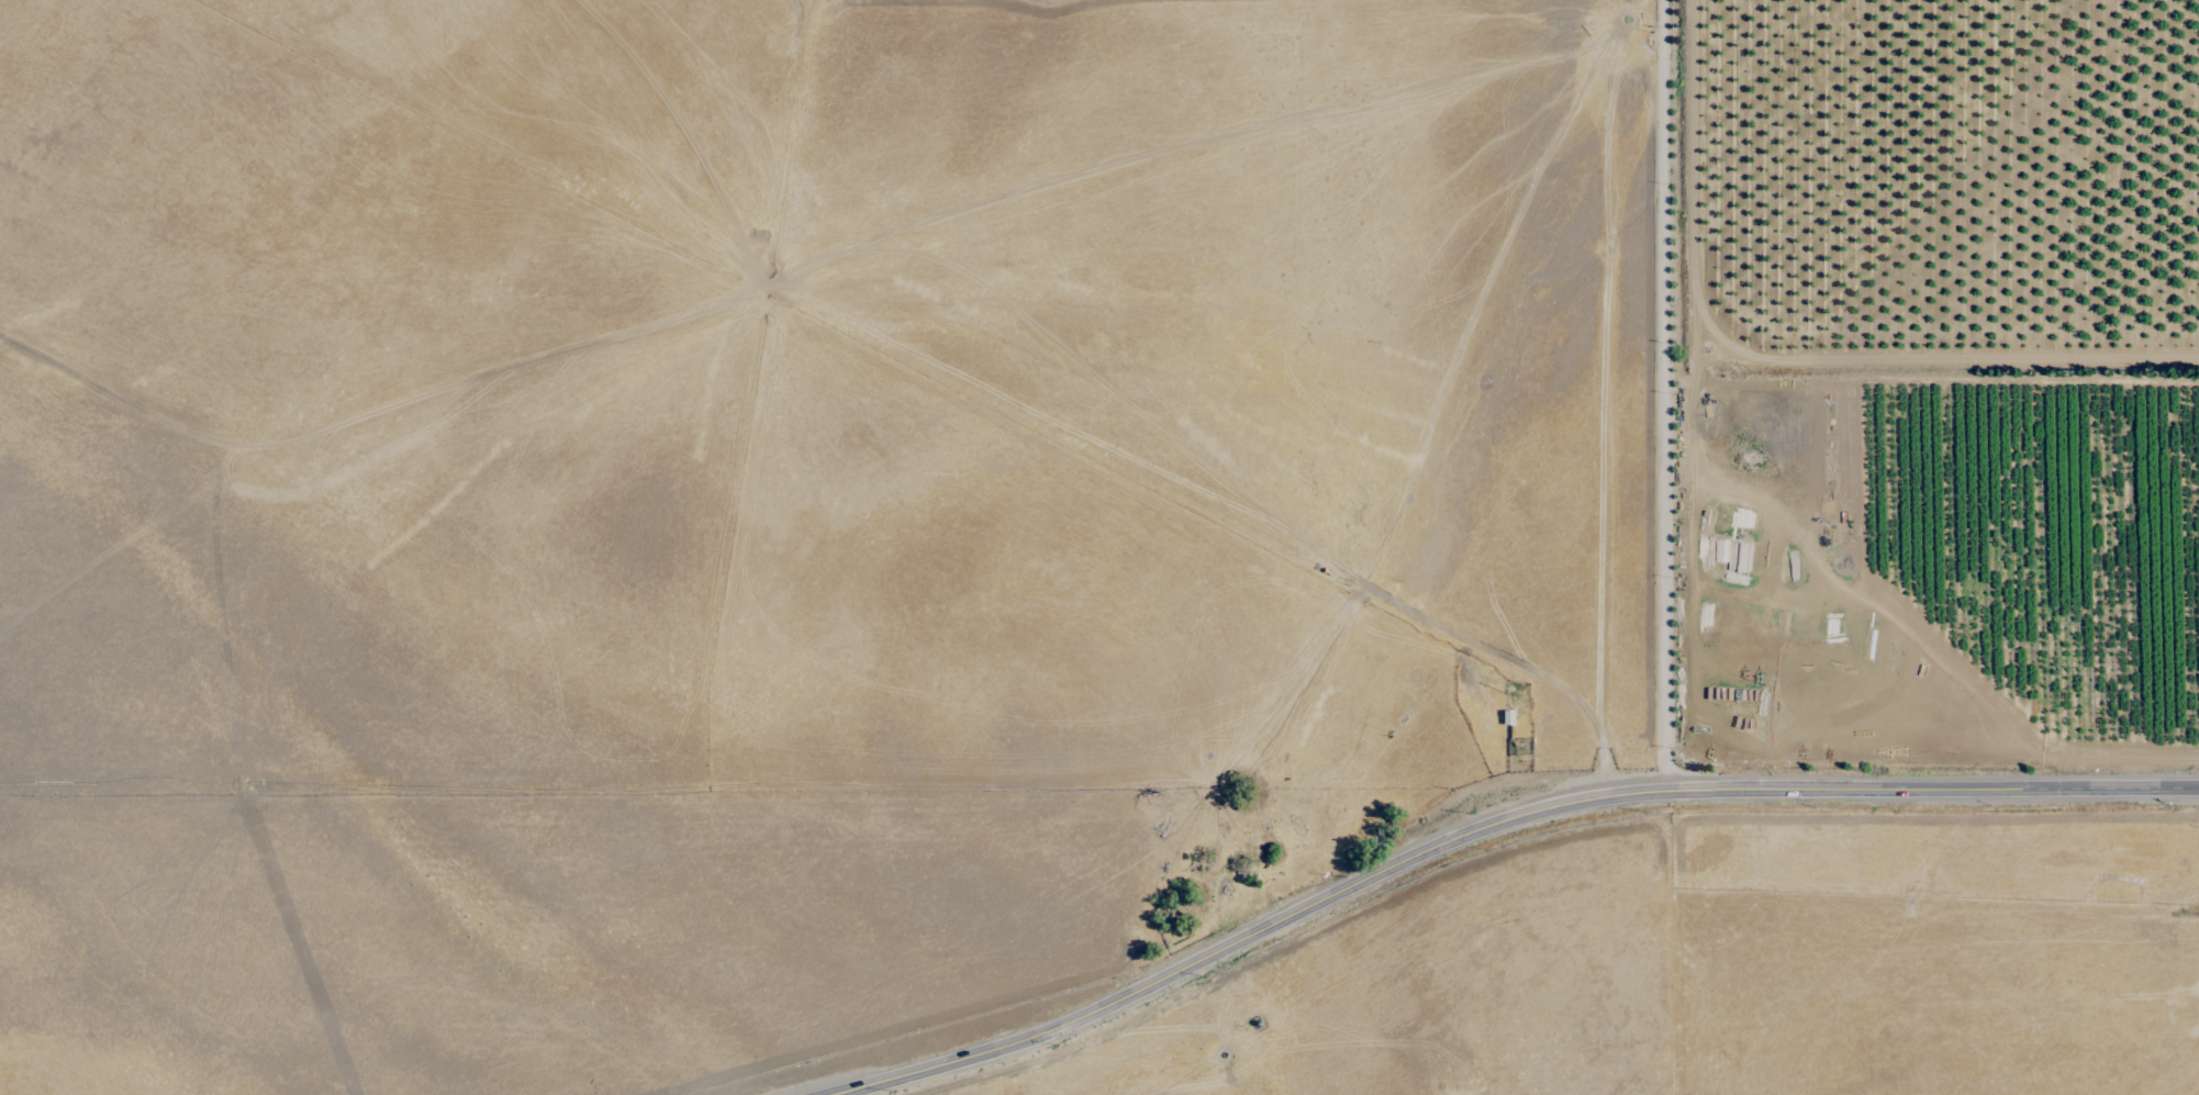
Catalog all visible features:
road: (1662, 394)
crop: (956, 583)
road: (1484, 823)

